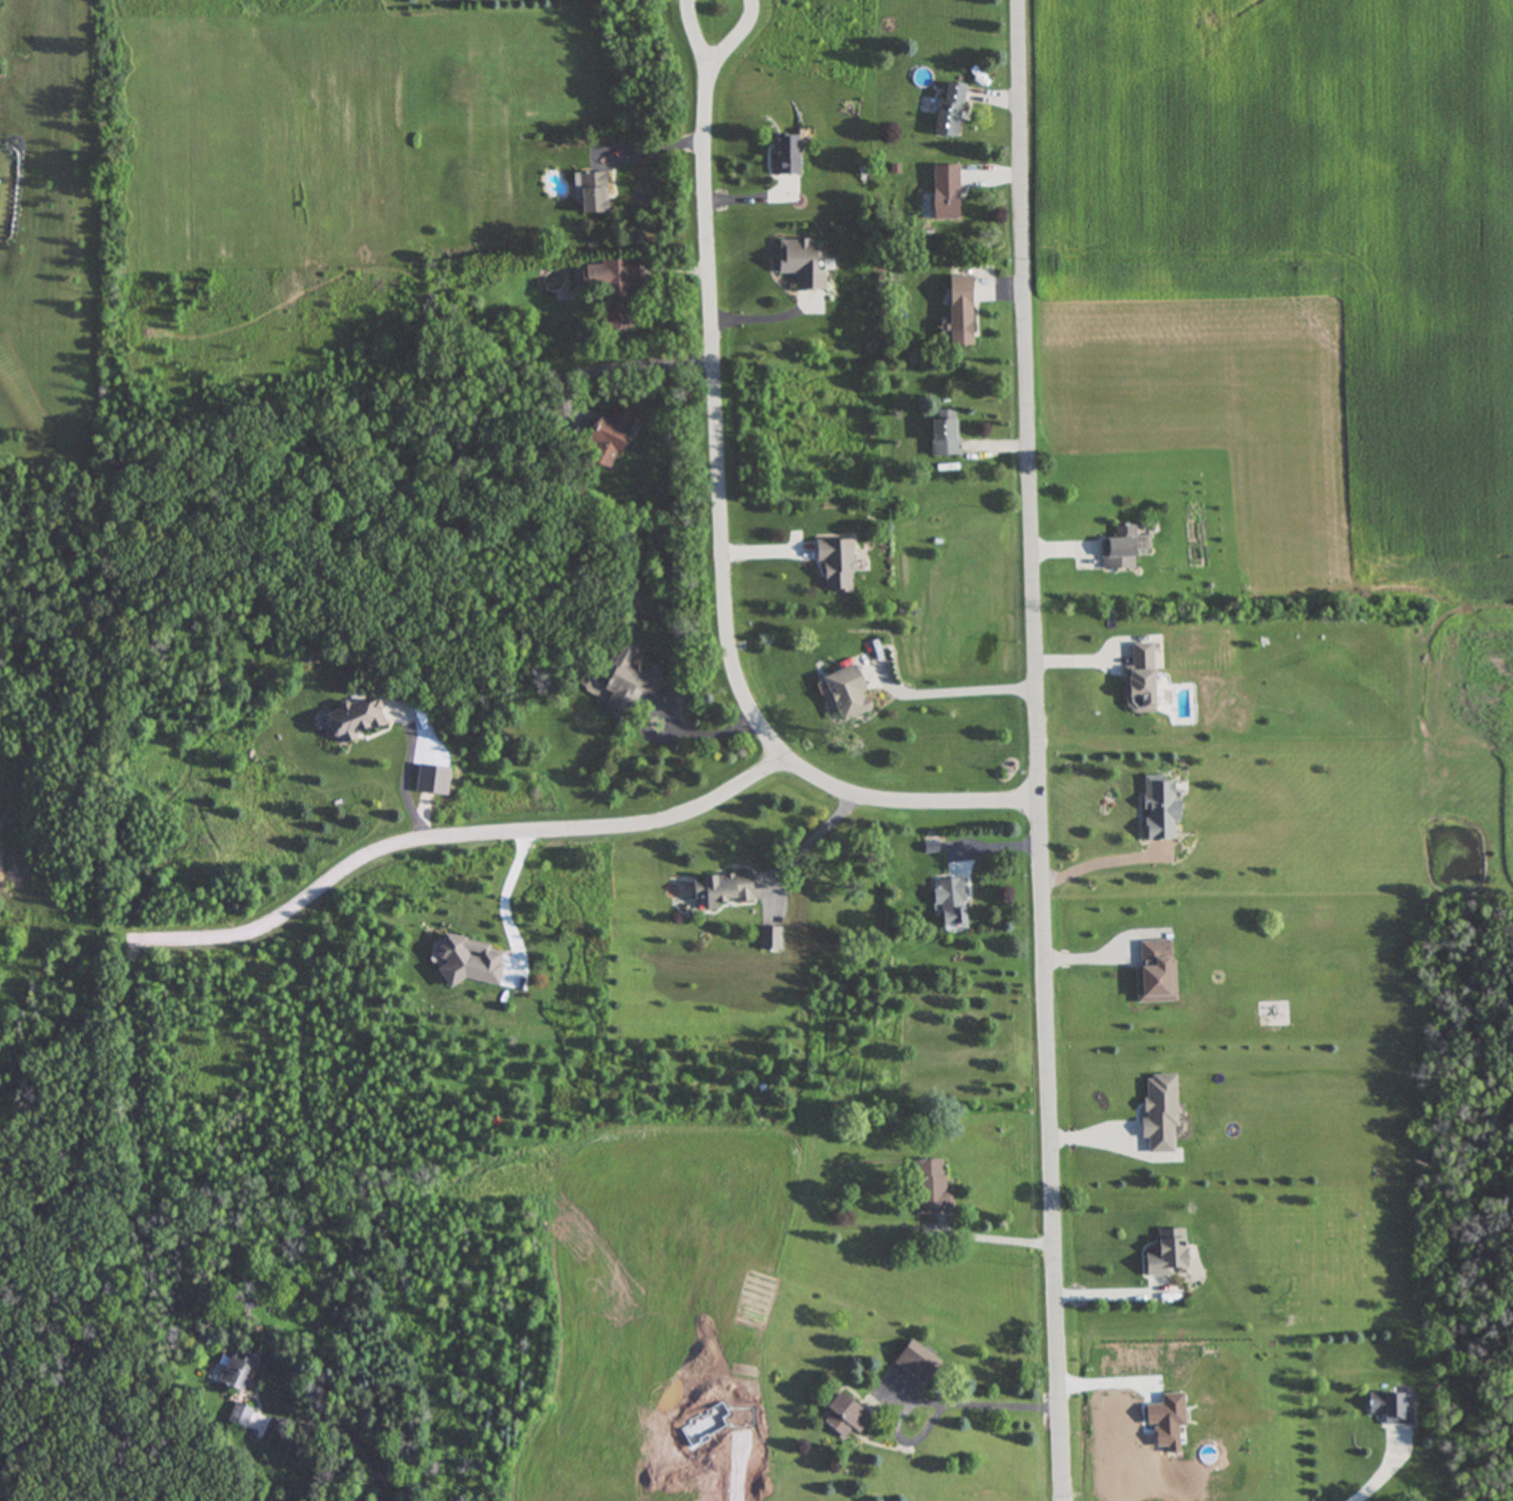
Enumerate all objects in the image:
road: (716, 1)
road: (718, 1)
building: (946, 109)
building: (784, 154)
building: (590, 192)
road: (745, 192)
building: (943, 197)
building: (801, 262)
building: (608, 292)
building: (958, 311)
road: (714, 390)
building: (609, 433)
building: (943, 433)
building: (1121, 549)
building: (835, 564)
building: (626, 678)
building: (1138, 679)
road: (960, 689)
building: (846, 693)
building: (352, 719)
road: (690, 731)
road: (1042, 750)
building: (1156, 809)
road: (906, 810)
road: (807, 841)
road: (442, 844)
road: (1101, 865)
building: (721, 889)
building: (948, 902)
road: (505, 913)
building: (466, 961)
building: (1153, 972)
building: (1157, 1115)
building: (927, 1186)
road: (993, 1235)
building: (1162, 1254)
road: (1110, 1294)
building: (915, 1362)
building: (233, 1372)
road: (993, 1401)
building: (1388, 1409)
building: (237, 1416)
building: (842, 1417)
road: (349, 1433)
road: (1385, 1471)

